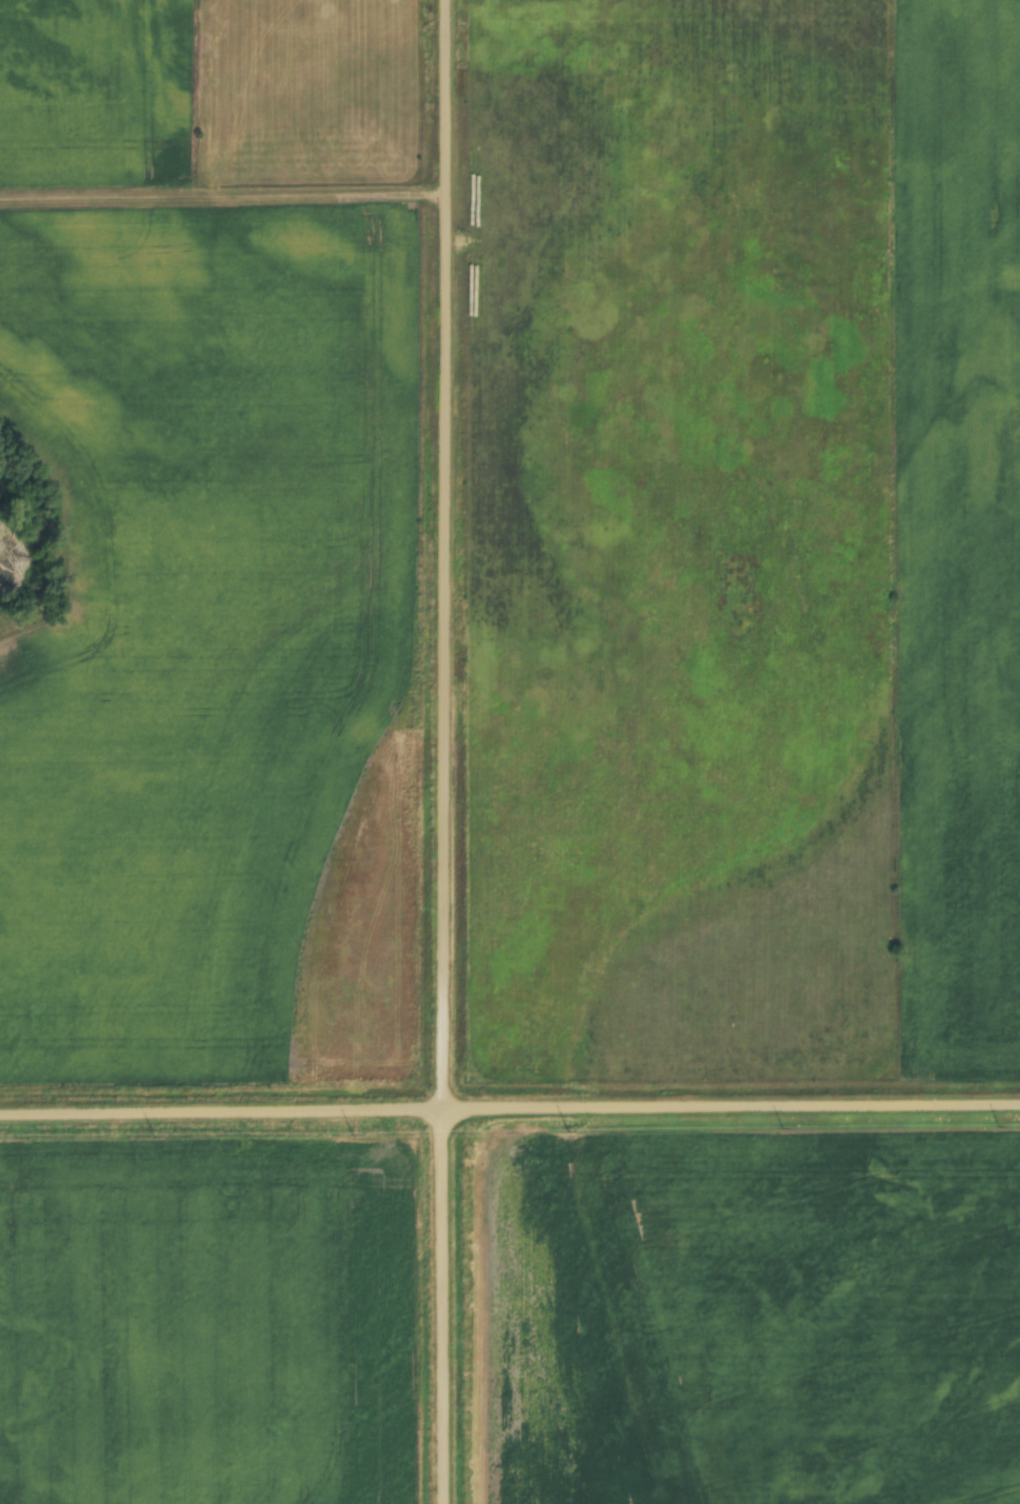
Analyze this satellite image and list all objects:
road: (442, 751)
road: (509, 1108)

